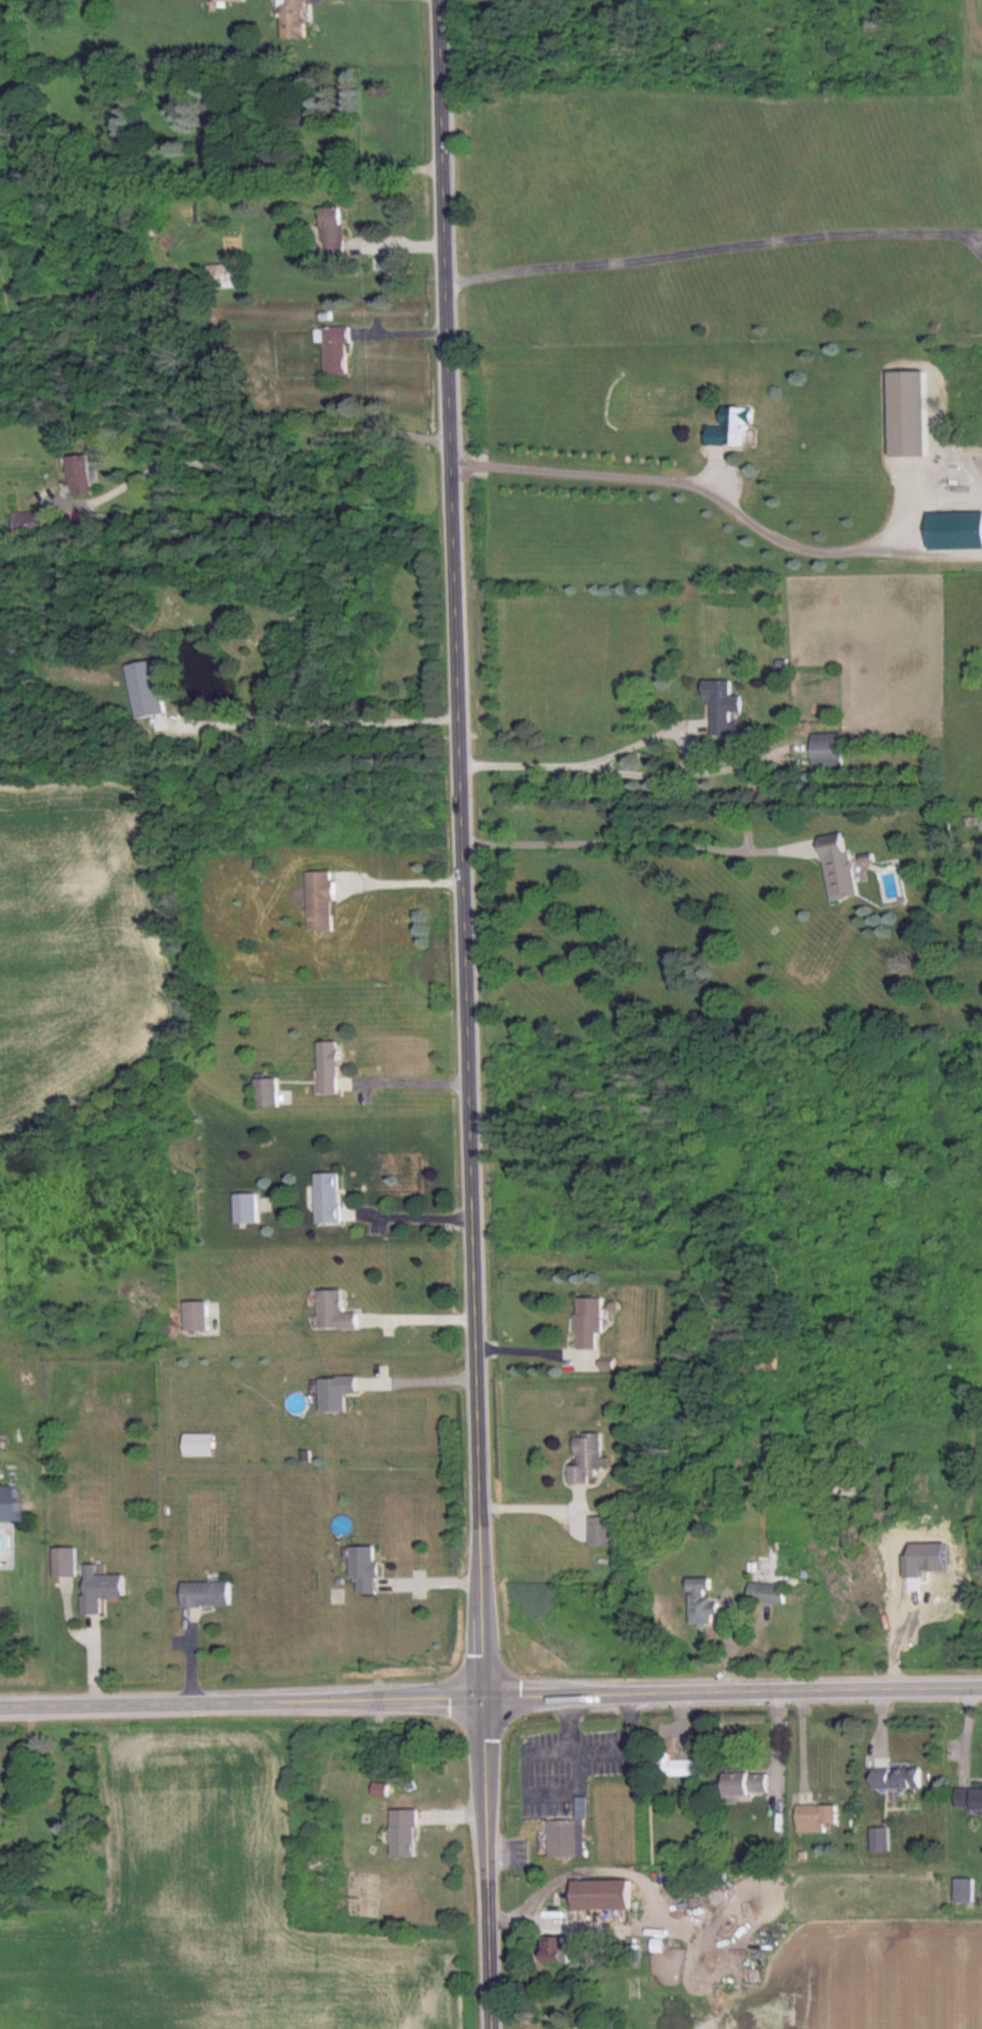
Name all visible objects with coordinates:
building: (294, 18)
building: (220, 118)
road: (339, 169)
building: (333, 229)
road: (718, 246)
building: (223, 275)
building: (336, 349)
building: (906, 413)
building: (731, 427)
road: (268, 464)
building: (77, 473)
road: (700, 478)
building: (955, 530)
building: (721, 703)
road: (327, 713)
building: (827, 748)
road: (583, 759)
building: (941, 835)
road: (637, 836)
building: (839, 867)
road: (404, 876)
building: (319, 900)
road: (475, 1014)
building: (326, 1065)
road: (417, 1075)
building: (263, 1090)
building: (325, 1195)
building: (243, 1206)
road: (422, 1216)
building: (332, 1309)
building: (193, 1314)
road: (425, 1317)
building: (587, 1321)
road: (537, 1345)
road: (426, 1380)
building: (333, 1391)
building: (586, 1457)
building: (599, 1530)
building: (63, 1560)
building: (362, 1567)
building: (98, 1587)
building: (765, 1590)
building: (205, 1592)
building: (701, 1601)
road: (490, 1692)
road: (598, 1747)
building: (676, 1758)
building: (895, 1776)
building: (746, 1783)
building: (969, 1798)
building: (815, 1816)
building: (404, 1831)
building: (565, 1836)
building: (879, 1837)
building: (962, 1888)
building: (601, 1893)
building: (560, 1949)

